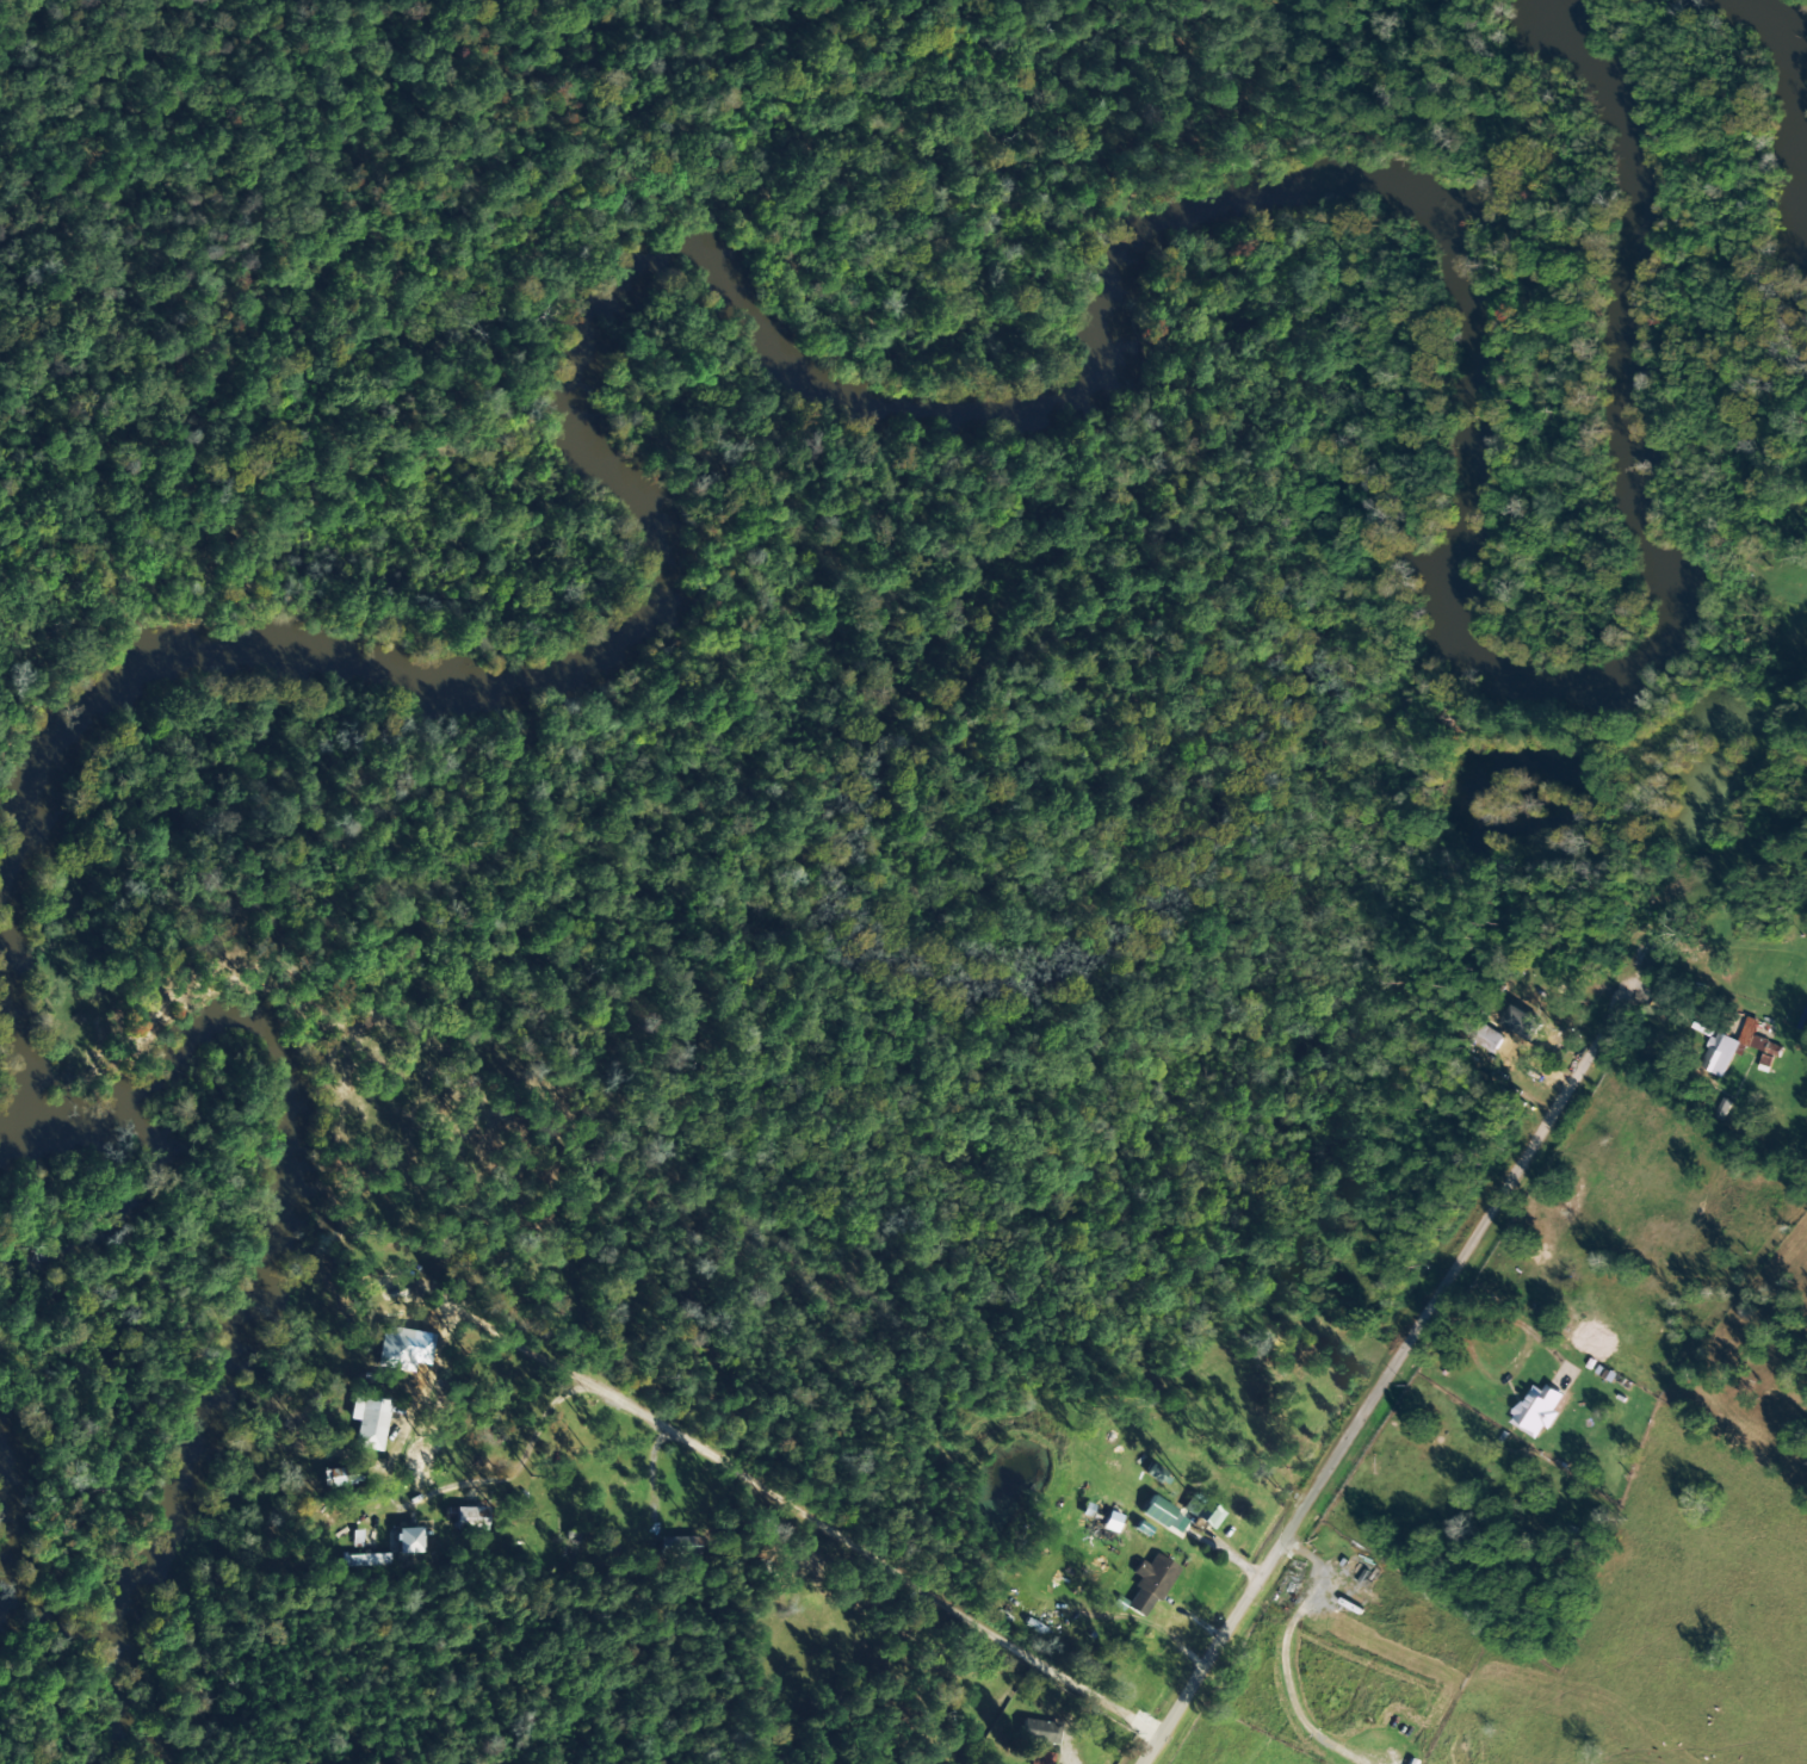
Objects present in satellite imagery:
river: (1786, 97)
river: (662, 556)
river: (1572, 683)
building: (1528, 1027)
building: (1487, 1039)
building: (1758, 1042)
building: (1719, 1054)
river: (261, 1268)
building: (395, 1349)
road: (1386, 1368)
building: (1536, 1410)
building: (367, 1422)
road: (790, 1505)
building: (1181, 1514)
building: (468, 1517)
building: (1102, 1521)
building: (408, 1541)
building: (365, 1560)
building: (1149, 1585)
building: (1036, 1732)
building: (1040, 1758)

